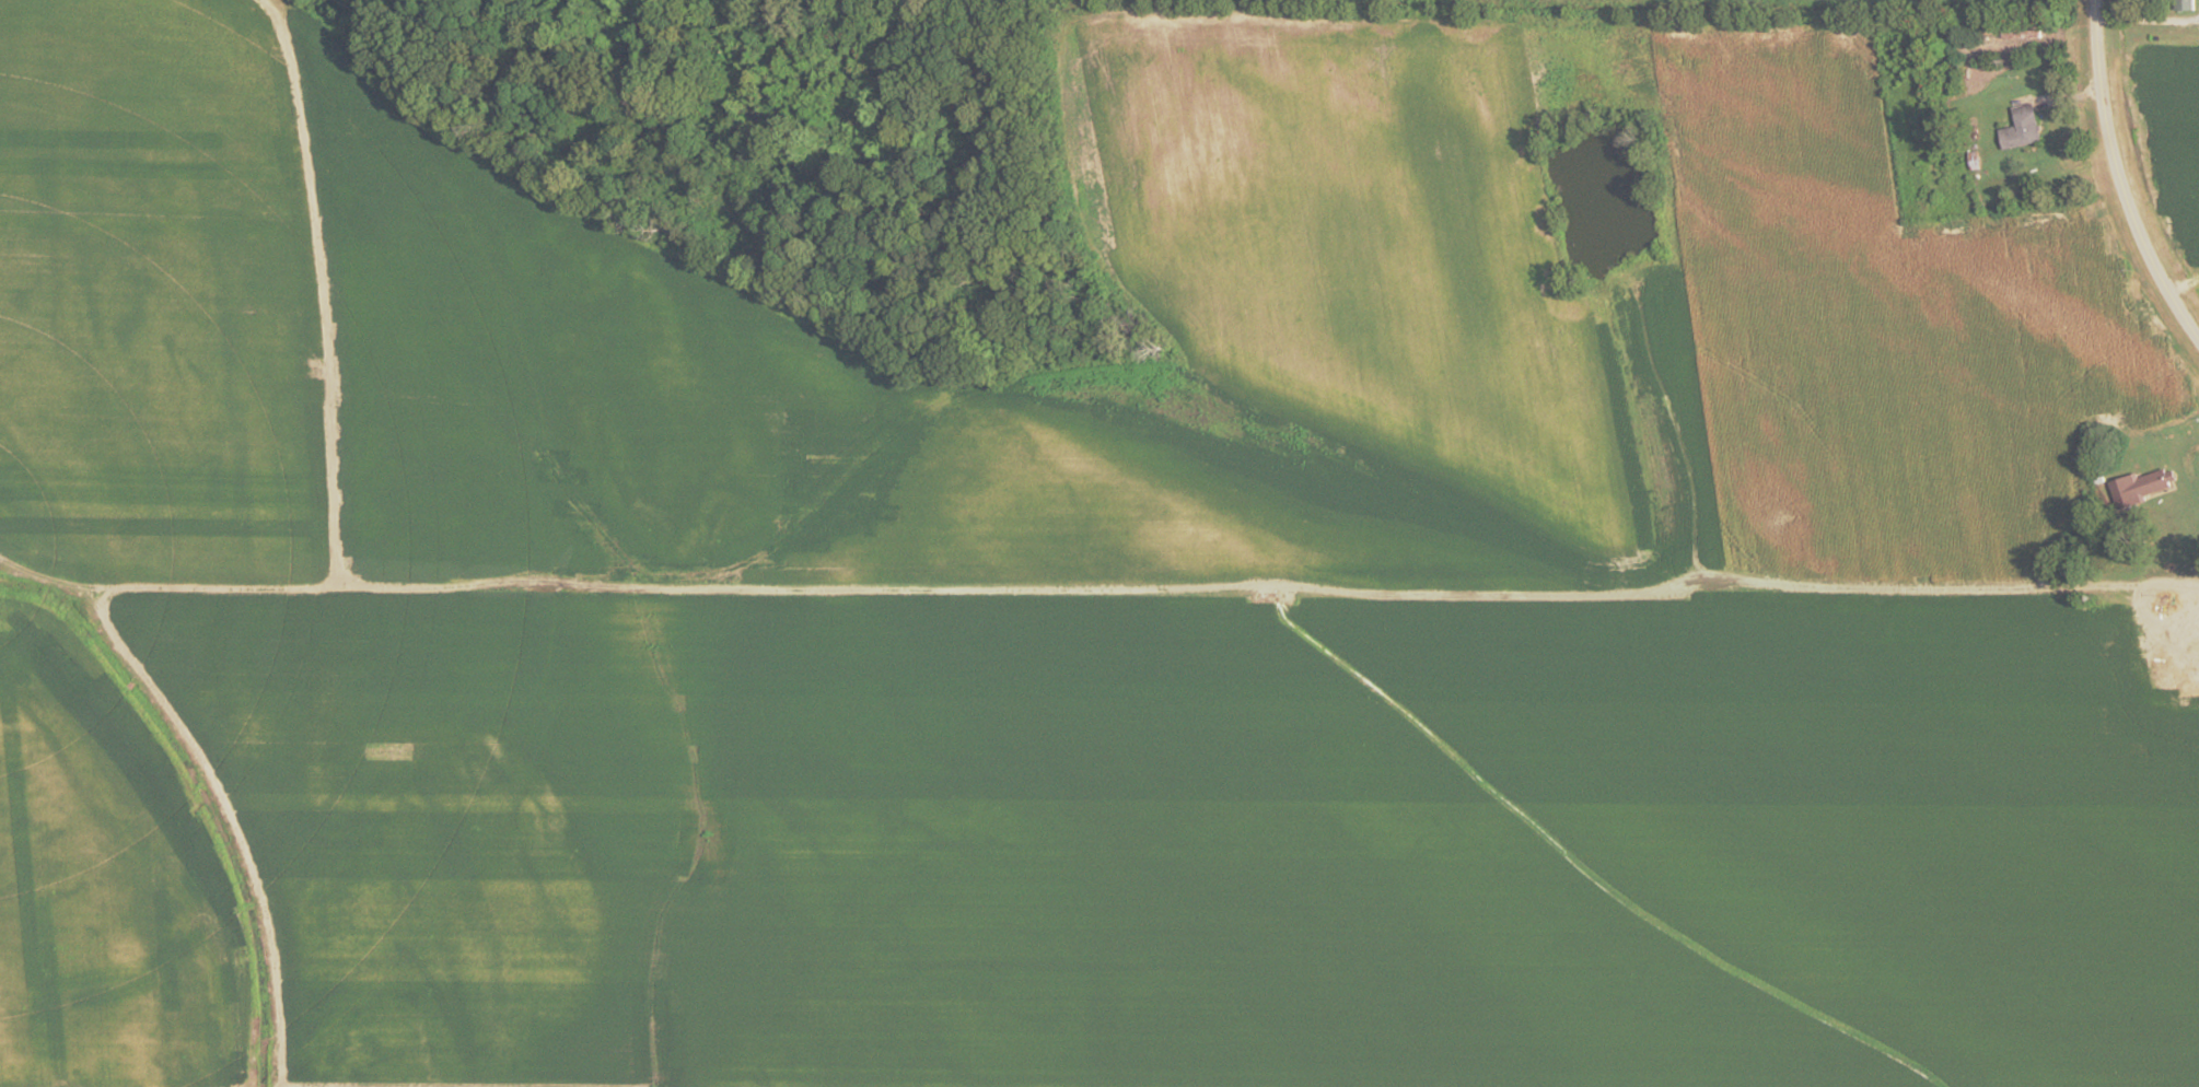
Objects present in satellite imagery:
building: (2183, 7)
building: (2018, 131)
road: (2115, 178)
building: (2137, 491)

